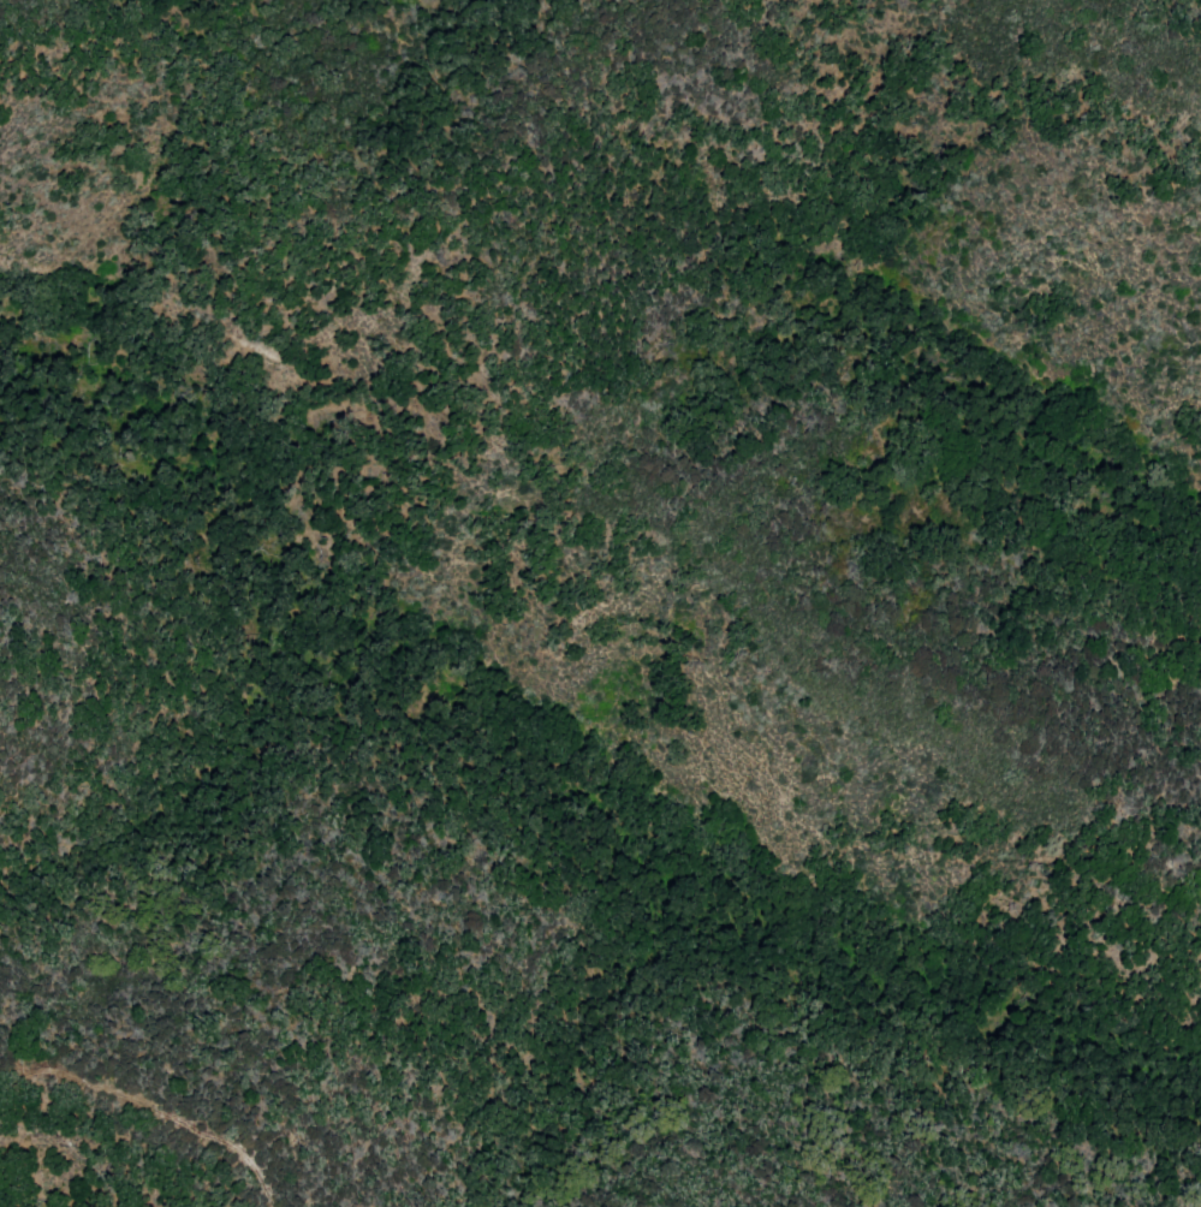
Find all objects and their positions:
road: (151, 1108)

